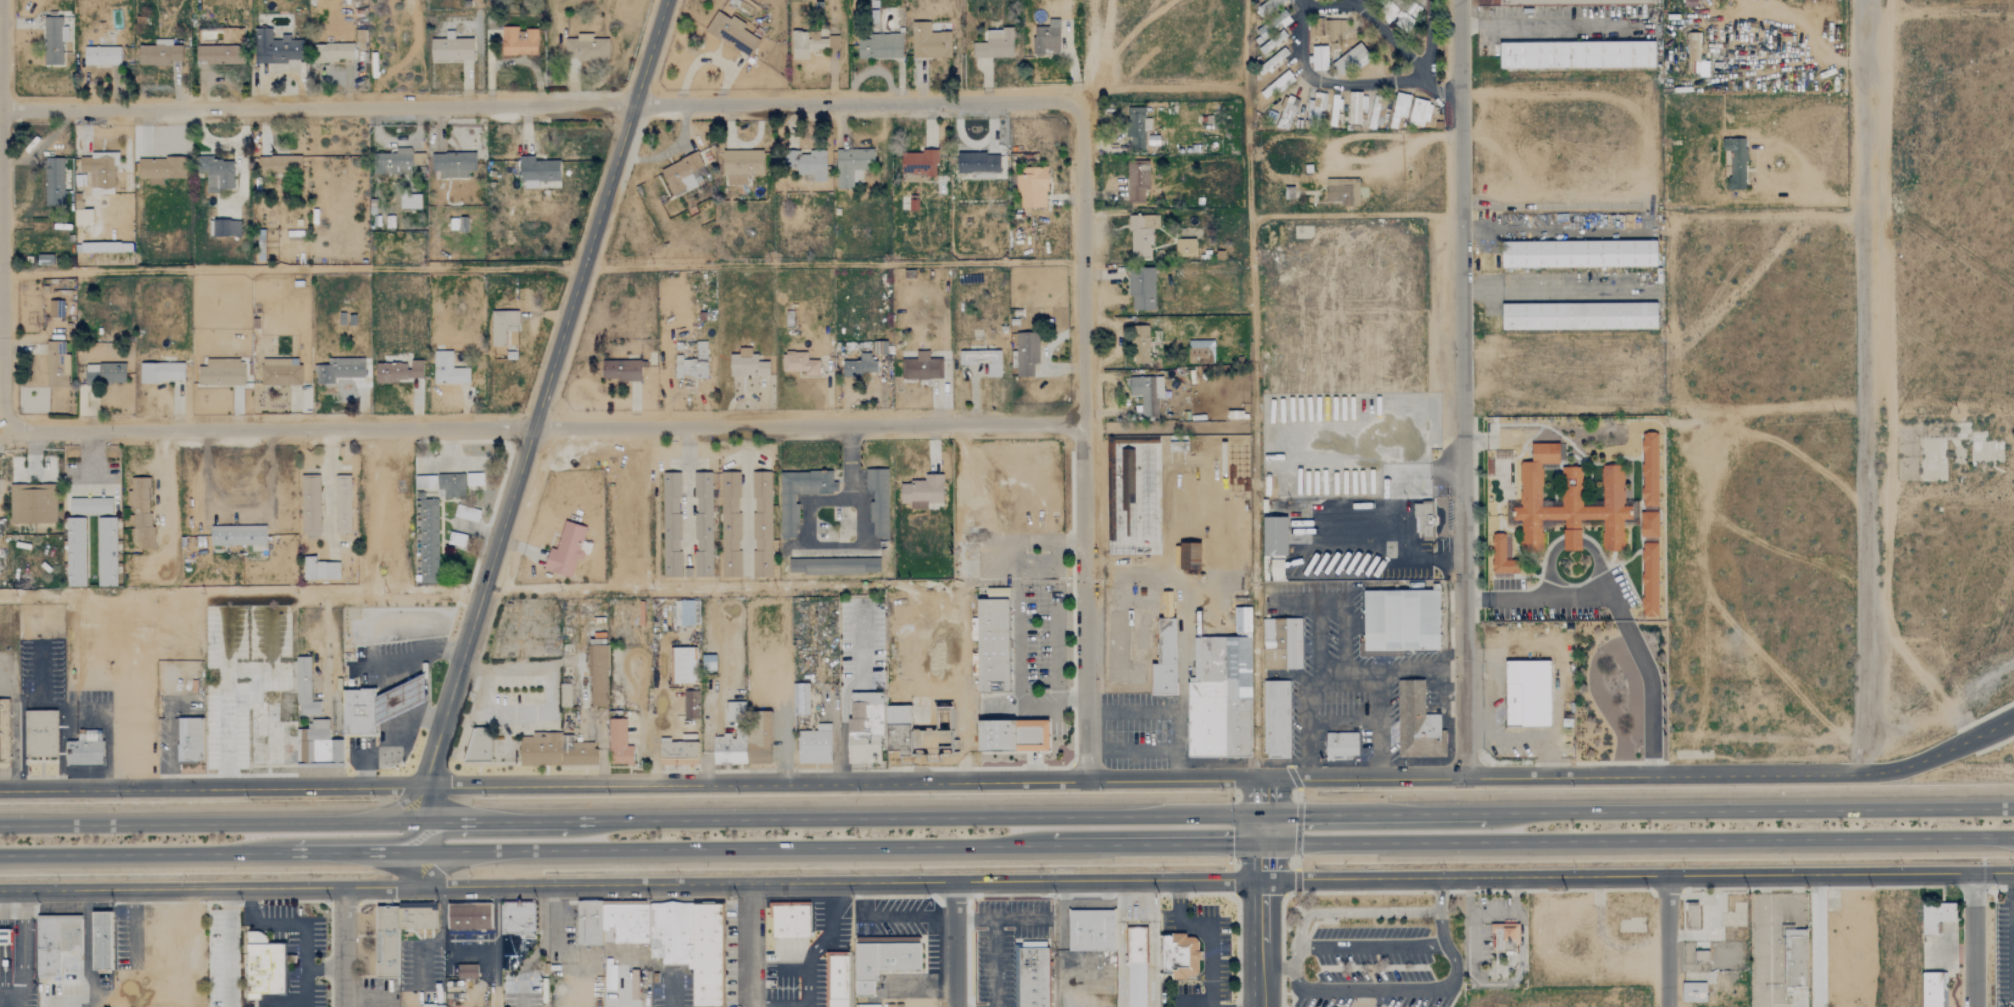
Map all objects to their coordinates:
road: (1299, 1)
building: (1573, 1)
road: (1329, 3)
building: (1689, 3)
building: (1268, 7)
road: (1553, 23)
building: (732, 33)
road: (1428, 35)
building: (231, 36)
building: (1047, 39)
road: (1391, 39)
building: (53, 40)
building: (518, 41)
building: (833, 42)
building: (930, 43)
building: (806, 44)
building: (994, 44)
building: (879, 46)
building: (275, 48)
building: (586, 48)
building: (451, 50)
building: (335, 52)
building: (1692, 52)
building: (158, 54)
building: (1578, 54)
building: (218, 55)
building: (101, 56)
building: (1319, 58)
building: (1351, 60)
building: (1701, 68)
road: (1348, 83)
building: (1276, 85)
road: (541, 103)
building: (1356, 107)
building: (1315, 109)
building: (1399, 109)
building: (1287, 112)
building: (1377, 112)
building: (1419, 113)
building: (1137, 129)
road: (1403, 152)
building: (404, 161)
building: (1736, 162)
building: (919, 163)
building: (807, 164)
building: (278, 165)
building: (453, 165)
building: (741, 166)
building: (852, 166)
building: (978, 166)
building: (160, 169)
building: (99, 171)
building: (537, 172)
building: (681, 174)
building: (217, 175)
building: (54, 182)
building: (1137, 182)
building: (1032, 188)
building: (1342, 192)
building: (410, 201)
road: (1, 209)
building: (82, 216)
building: (224, 228)
road: (1540, 231)
building: (1141, 235)
building: (1184, 248)
building: (1580, 254)
road: (291, 270)
building: (1141, 290)
road: (1552, 291)
building: (55, 304)
building: (1580, 316)
building: (501, 325)
building: (1139, 345)
building: (880, 348)
building: (1026, 354)
building: (983, 361)
building: (693, 364)
building: (56, 365)
building: (747, 365)
building: (799, 365)
building: (858, 366)
building: (922, 367)
building: (338, 370)
building: (447, 370)
building: (620, 370)
building: (280, 372)
building: (398, 372)
building: (160, 373)
building: (221, 373)
building: (104, 374)
road: (1866, 387)
road: (1462, 389)
road: (542, 391)
building: (1146, 393)
road: (543, 426)
road: (1083, 440)
building: (1545, 451)
road: (90, 462)
building: (1650, 470)
building: (474, 480)
building: (424, 482)
building: (451, 485)
road: (687, 488)
building: (922, 492)
road: (747, 496)
road: (166, 500)
building: (878, 501)
building: (32, 504)
building: (310, 504)
building: (342, 505)
building: (90, 506)
building: (1572, 506)
building: (138, 514)
building: (466, 514)
building: (788, 517)
building: (762, 524)
building: (671, 525)
building: (703, 525)
building: (729, 525)
building: (1649, 525)
building: (237, 536)
building: (1274, 537)
building: (427, 540)
road: (1572, 542)
road: (855, 545)
road: (1390, 547)
building: (566, 550)
building: (75, 552)
building: (105, 552)
building: (1503, 558)
building: (1190, 559)
building: (834, 566)
road: (1548, 567)
road: (1599, 567)
building: (309, 568)
building: (1277, 569)
building: (328, 571)
building: (1650, 580)
road: (1328, 598)
parking lot: (1557, 600)
building: (688, 613)
road: (1620, 614)
building: (1239, 618)
building: (1401, 621)
road: (859, 646)
building: (992, 646)
building: (1165, 659)
building: (708, 663)
building: (682, 666)
road: (1419, 668)
building: (598, 676)
road: (387, 677)
road: (1341, 677)
building: (304, 688)
building: (1528, 693)
parking lot: (392, 695)
building: (564, 695)
gas station: (401, 698)
building: (1219, 698)
building: (799, 699)
road: (14, 703)
building: (690, 705)
road: (1166, 707)
building: (360, 711)
building: (1276, 720)
building: (1418, 722)
road: (842, 725)
building: (865, 727)
building: (4, 733)
building: (40, 734)
road: (59, 734)
building: (1013, 736)
building: (757, 738)
building: (189, 741)
building: (618, 744)
building: (814, 745)
building: (1341, 745)
building: (85, 750)
road: (1129, 750)
building: (555, 751)
building: (677, 753)
road: (375, 754)
road: (1943, 754)
road: (1565, 777)
road: (844, 781)
road: (212, 787)
road: (1263, 797)
road: (423, 803)
road: (1638, 808)
traffic signals: (1263, 815)
road: (842, 818)
road: (211, 823)
road: (1262, 829)
road: (445, 832)
road: (1637, 839)
road: (394, 840)
traffic signals: (1262, 843)
road: (1155, 844)
road: (734, 849)
road: (333, 852)
road: (123, 853)
road: (421, 870)
road: (1638, 877)
road: (630, 885)
road: (1469, 897)
road: (1796, 909)
road: (1356, 912)
building: (470, 915)
road: (1512, 915)
road: (881, 916)
building: (1937, 916)
building: (1692, 917)
road: (1001, 918)
building: (790, 920)
building: (518, 922)
road: (261, 924)
road: (1200, 924)
road: (1261, 924)
road: (141, 925)
building: (1092, 930)
building: (5, 936)
building: (665, 938)
road: (1472, 939)
building: (102, 940)
road: (1975, 940)
road: (1816, 941)
road: (1668, 942)
building: (55, 944)
parking lot: (1002, 944)
road: (750, 945)
road: (956, 945)
road: (1764, 945)
road: (307, 946)
building: (390, 946)
road: (1371, 946)
road: (343, 947)
road: (231, 948)
road: (21, 949)
road: (87, 949)
building: (1180, 955)
building: (1507, 955)
building: (886, 958)
road: (1295, 958)
building: (1795, 958)
road: (993, 962)
building: (1137, 965)
road: (1275, 967)
building: (266, 968)
road: (325, 968)
parking lot: (1373, 968)
road: (806, 969)
building: (467, 971)
building: (1034, 976)
road: (1174, 978)
building: (839, 980)
road: (307, 985)
building: (1933, 988)
road: (1419, 989)
road: (668, 990)
building: (1694, 991)
road: (1211, 992)
road: (64, 1002)
road: (284, 1003)
building: (429, 1005)

